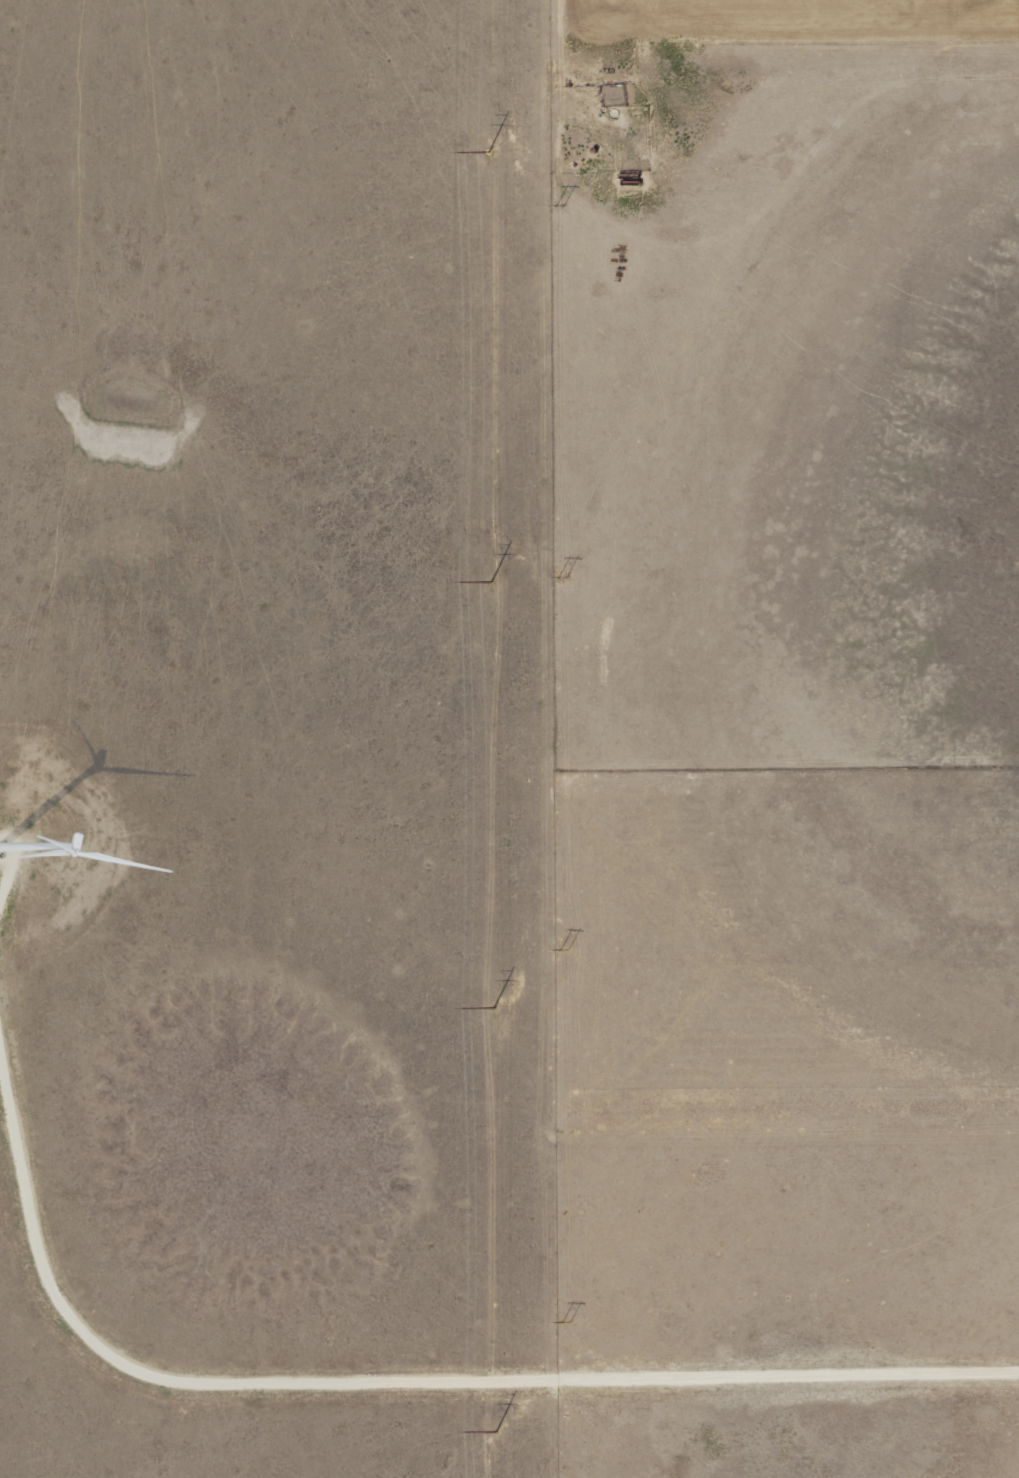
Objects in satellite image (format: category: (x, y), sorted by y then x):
power tower: (485, 152)
power tower: (488, 582)
road: (8, 874)
power tower: (491, 1008)
road: (392, 1381)
power tower: (492, 1431)

